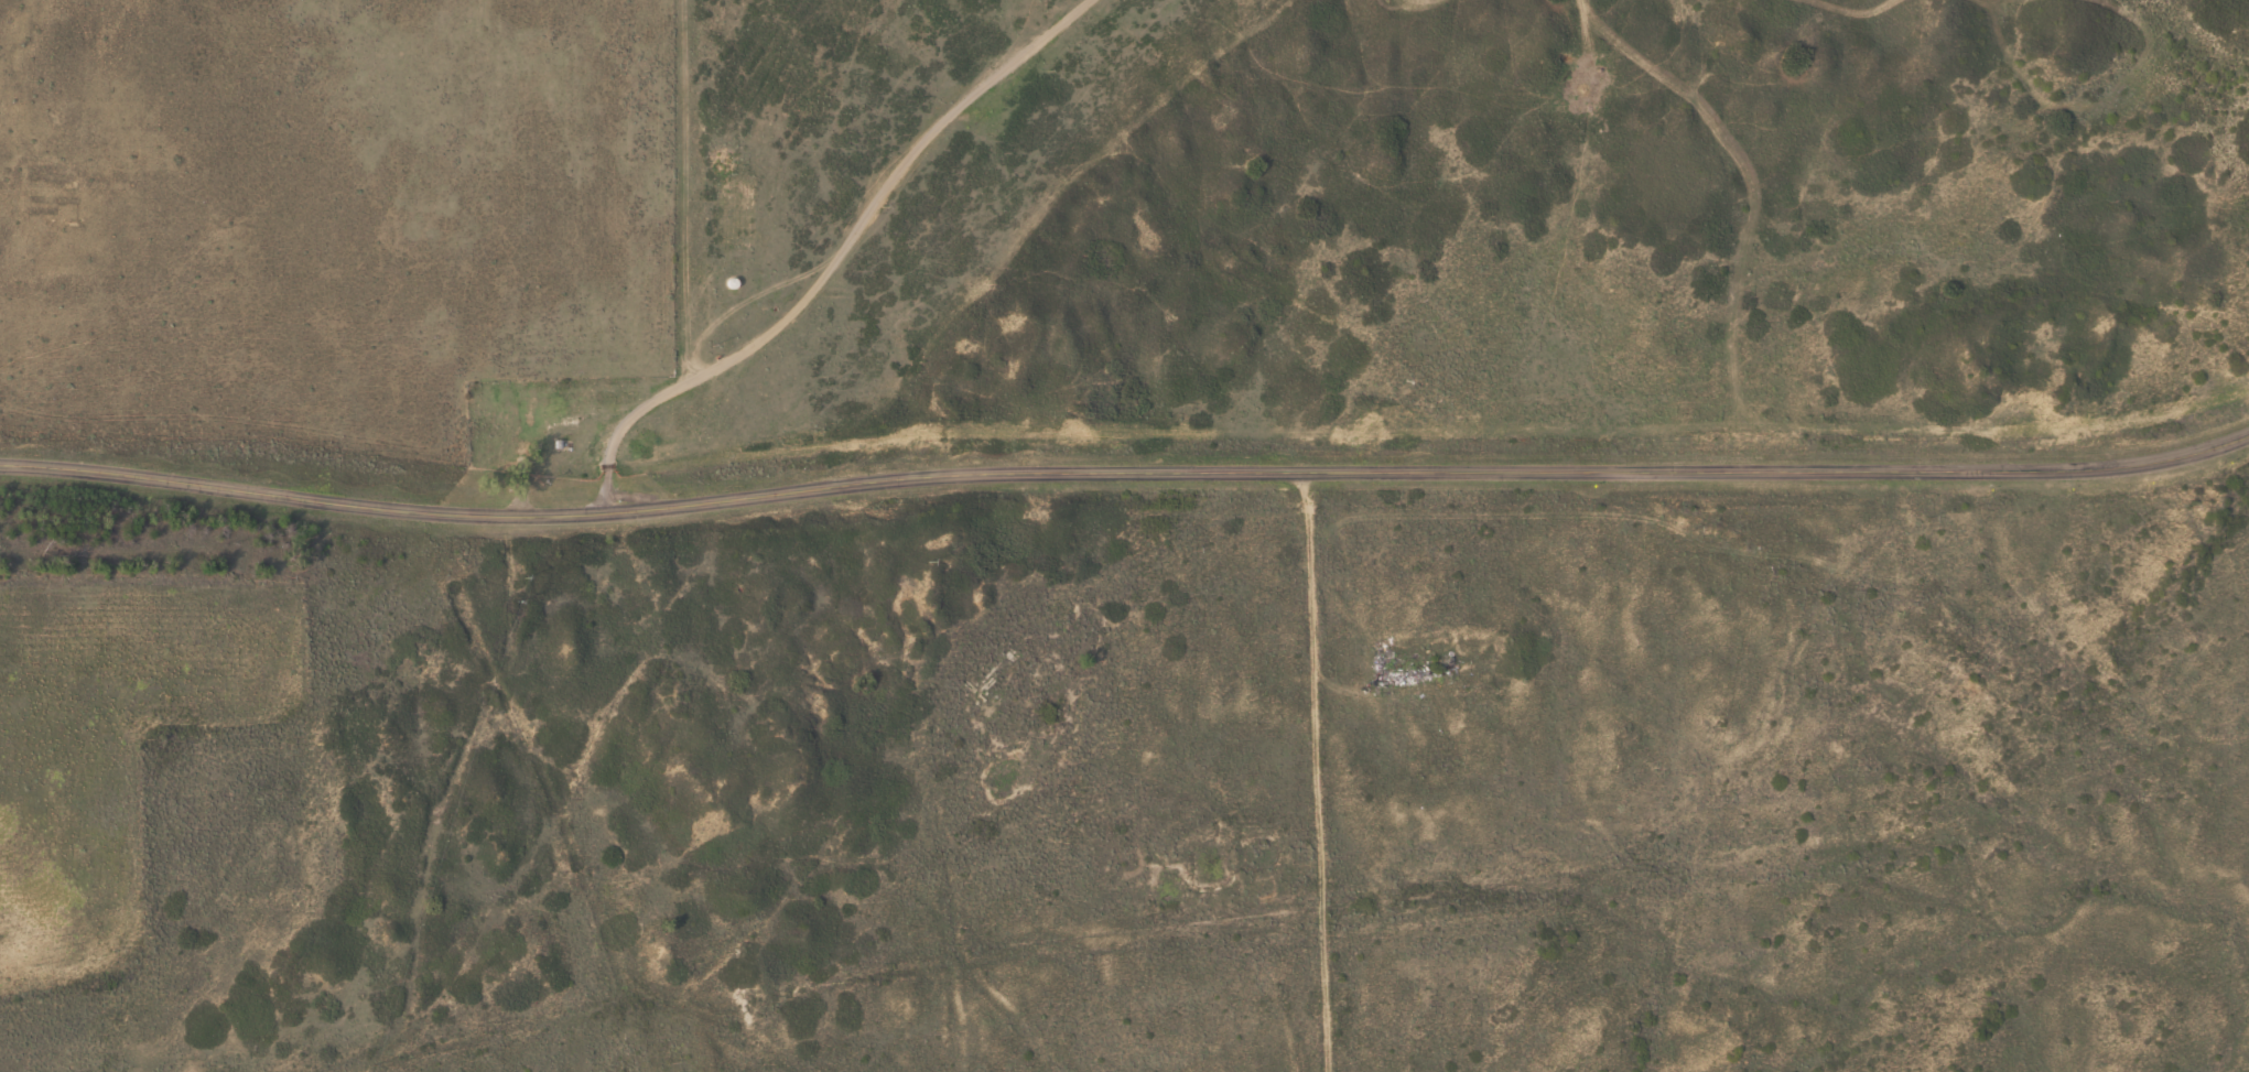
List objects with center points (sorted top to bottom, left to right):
road: (1123, 473)

